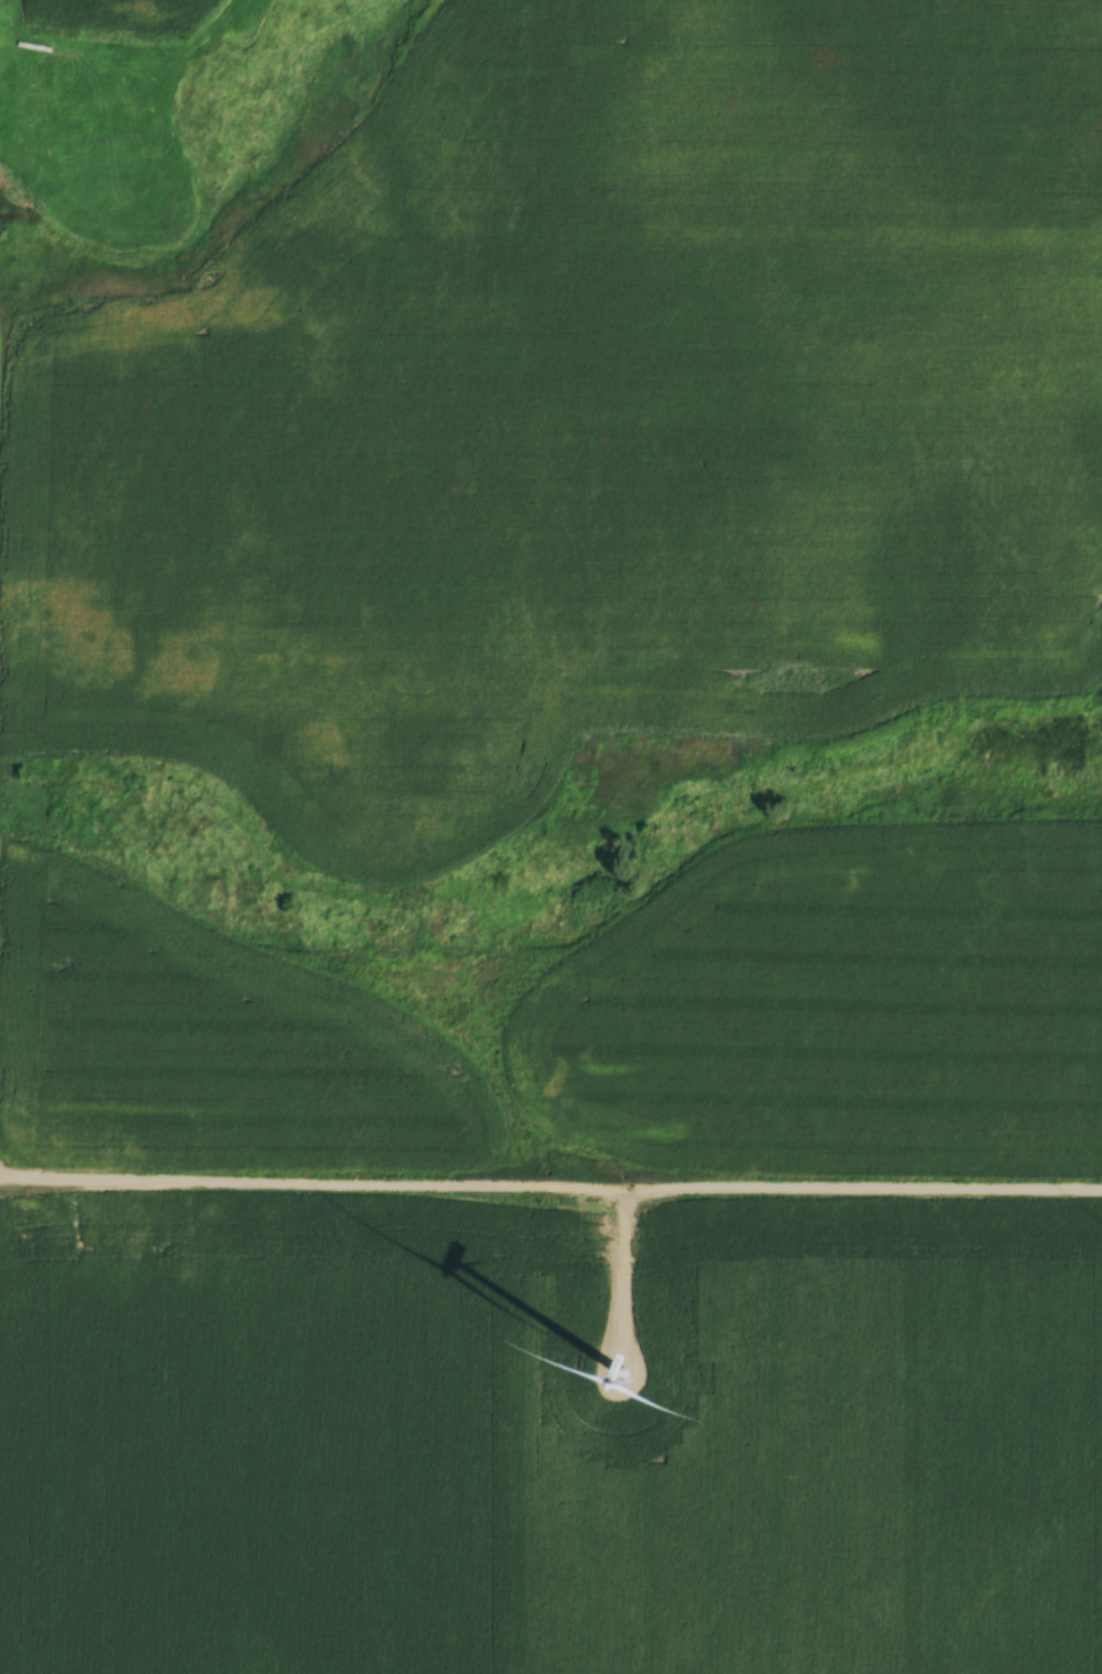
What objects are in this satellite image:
road: (550, 1190)
wind turbine: (619, 1374)

